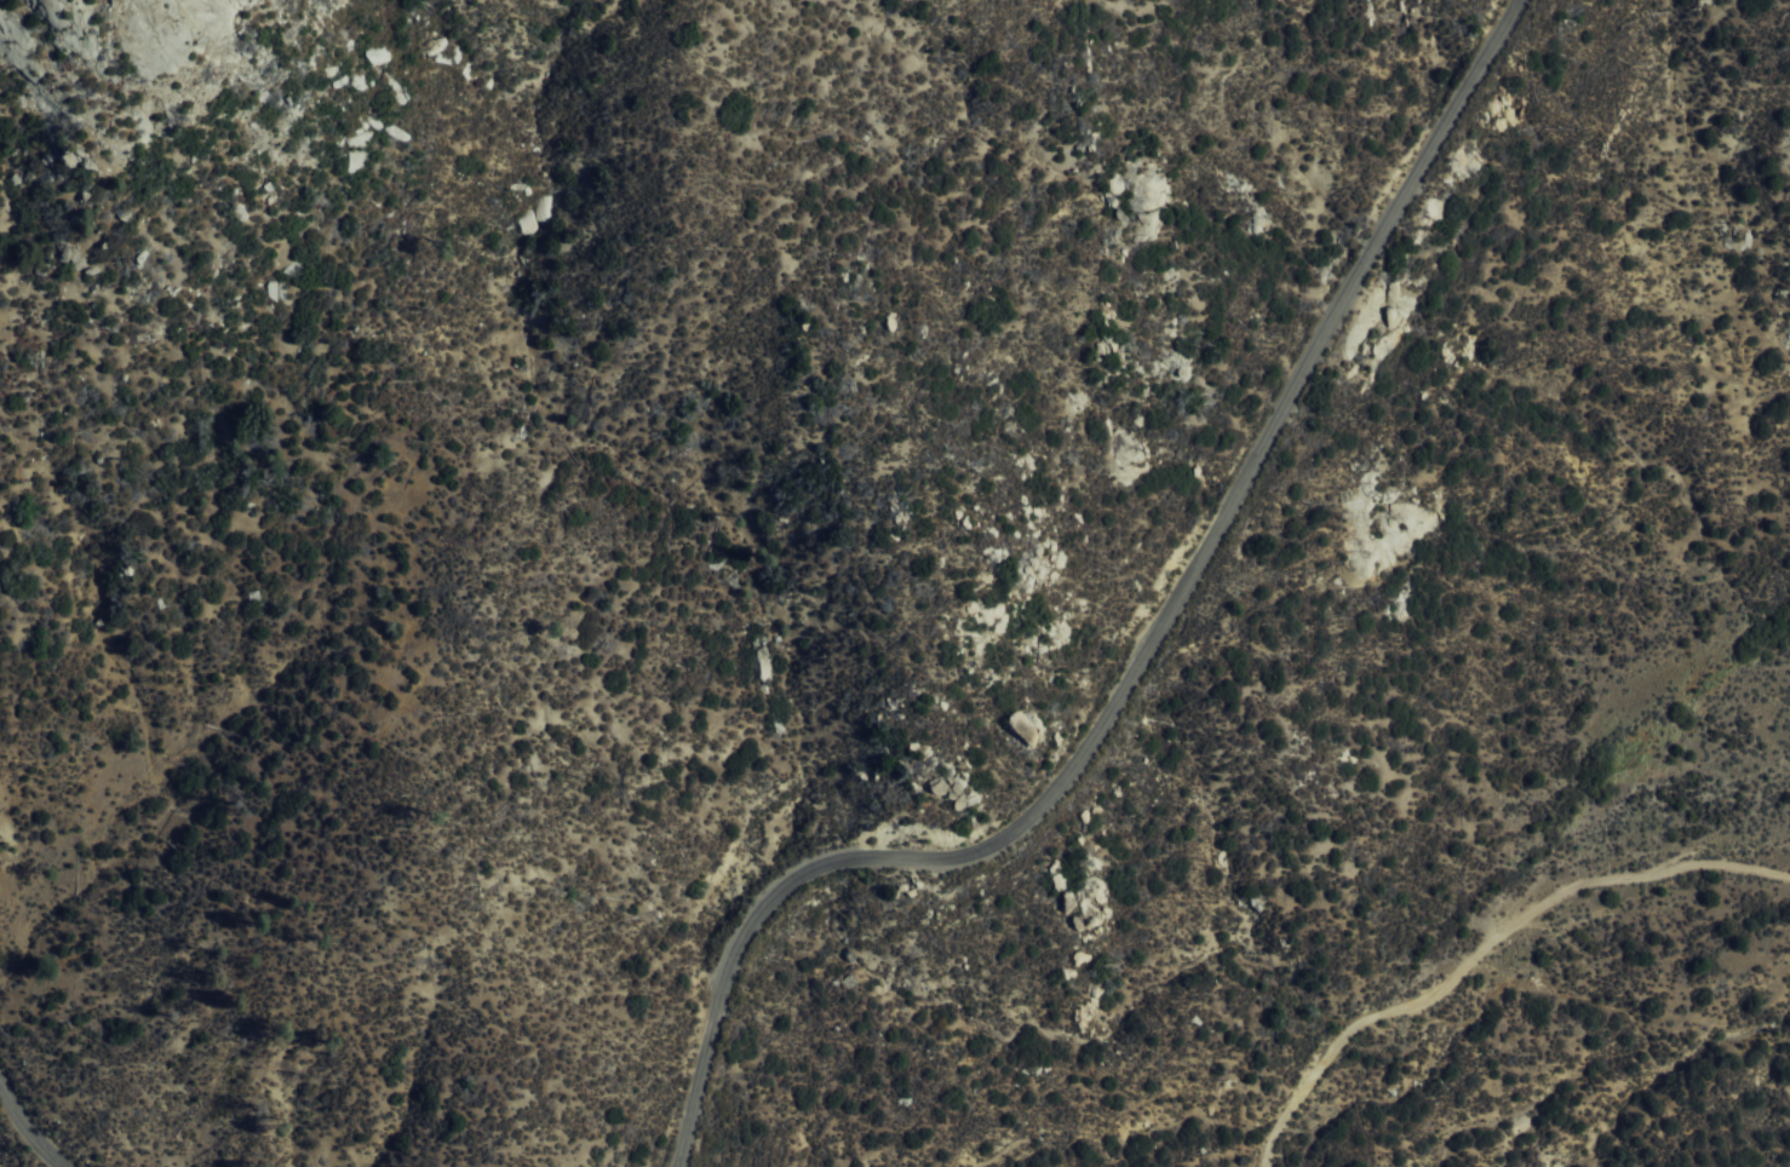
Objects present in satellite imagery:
road: (1137, 667)
road: (1497, 966)
road: (29, 1123)

